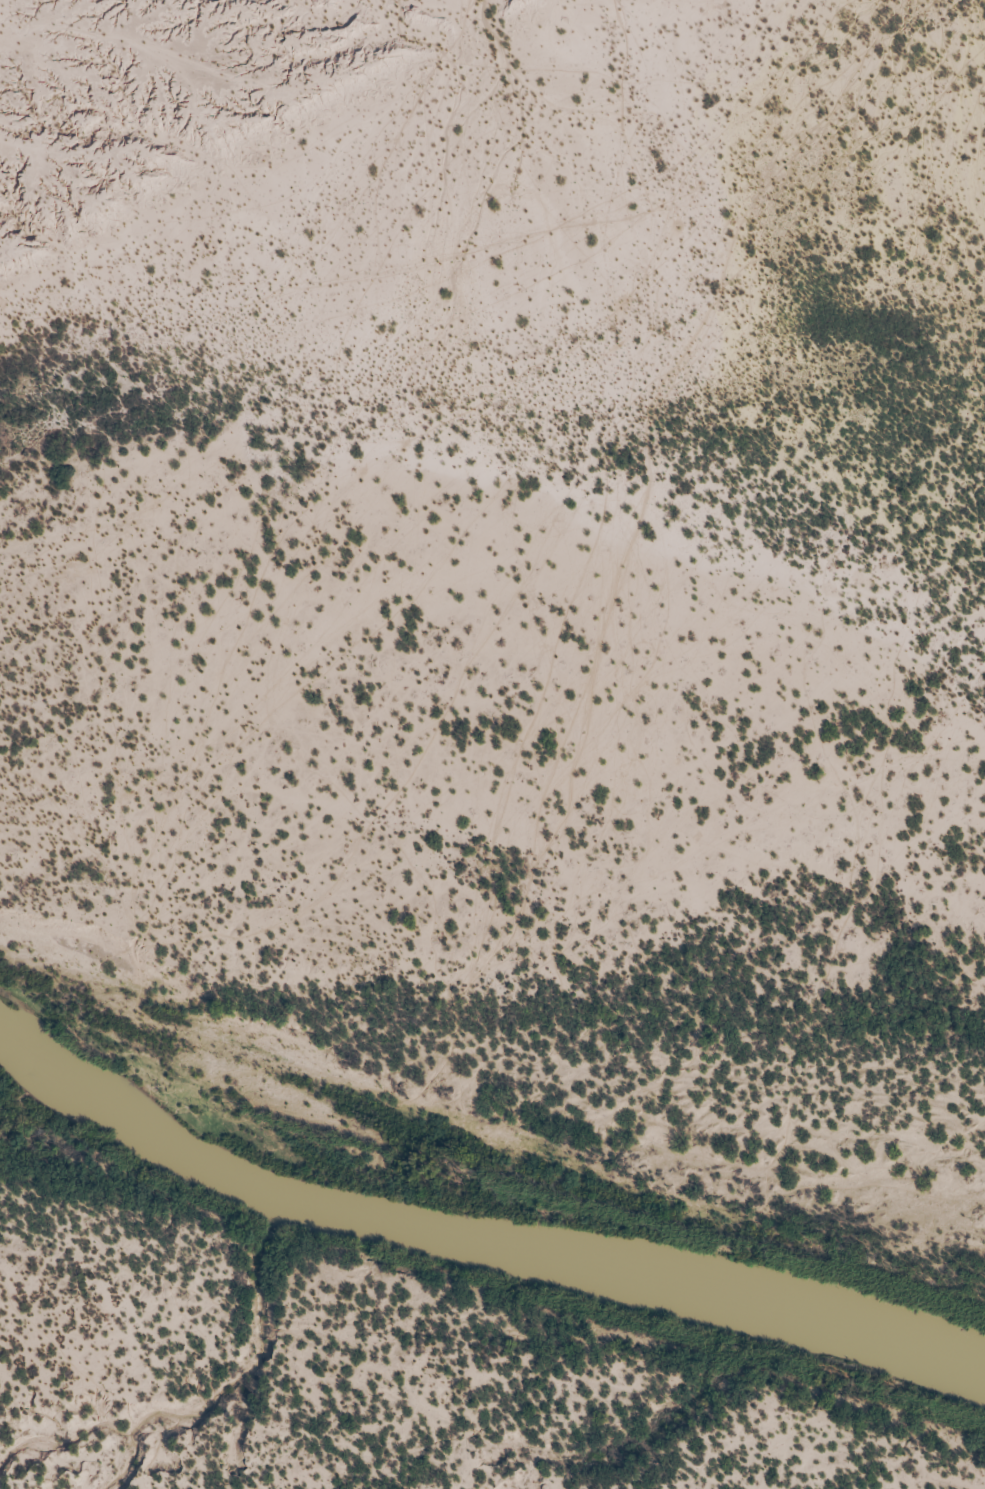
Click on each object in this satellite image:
river: (476, 1235)

